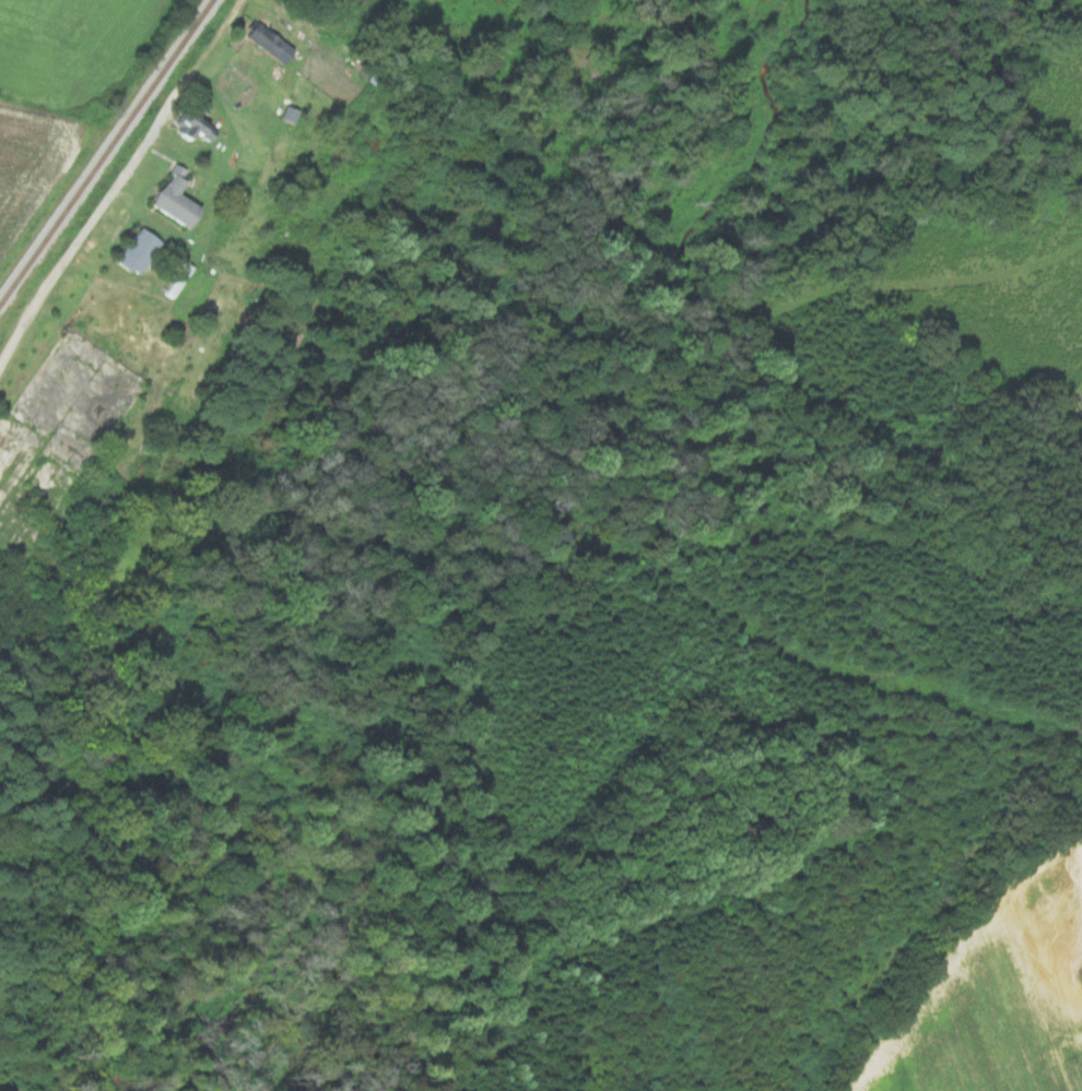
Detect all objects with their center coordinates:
building: (264, 39)
building: (192, 127)
railway: (105, 152)
building: (170, 200)
road: (84, 238)
building: (134, 249)

